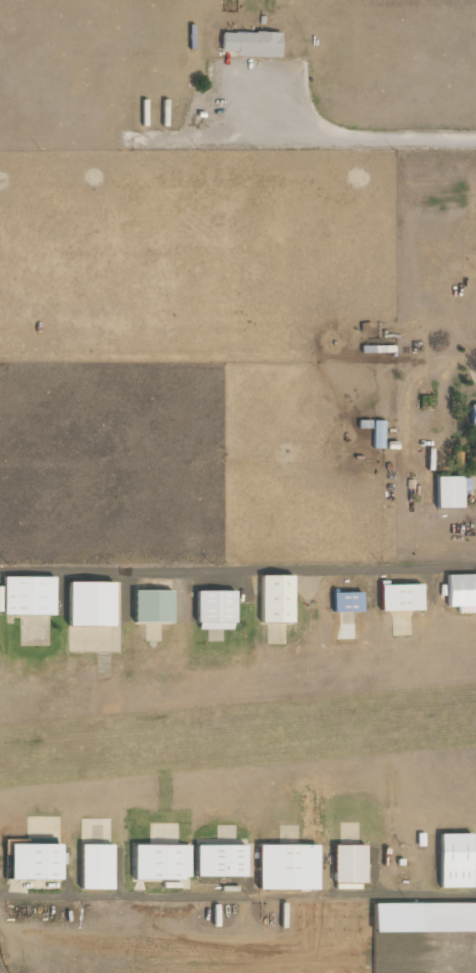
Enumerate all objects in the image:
building: (250, 44)
building: (473, 416)
airport: (238, 486)
building: (448, 492)
building: (461, 590)
building: (26, 596)
building: (399, 597)
building: (275, 599)
building: (346, 602)
building: (89, 603)
building: (213, 606)
building: (151, 610)
building: (454, 860)
building: (31, 861)
building: (219, 861)
building: (160, 862)
building: (348, 864)
building: (95, 867)
building: (286, 867)

